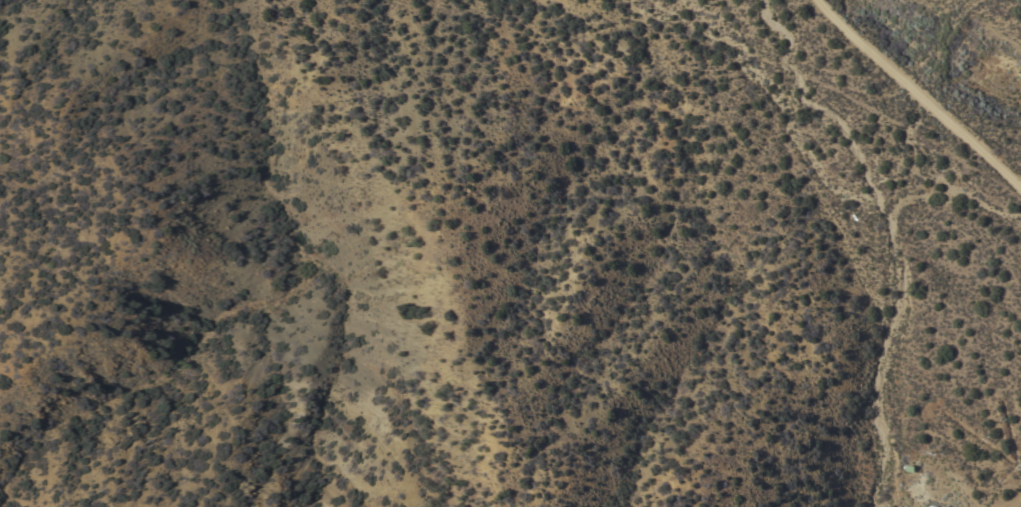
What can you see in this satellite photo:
road: (560, 391)
building: (935, 506)
building: (945, 506)

